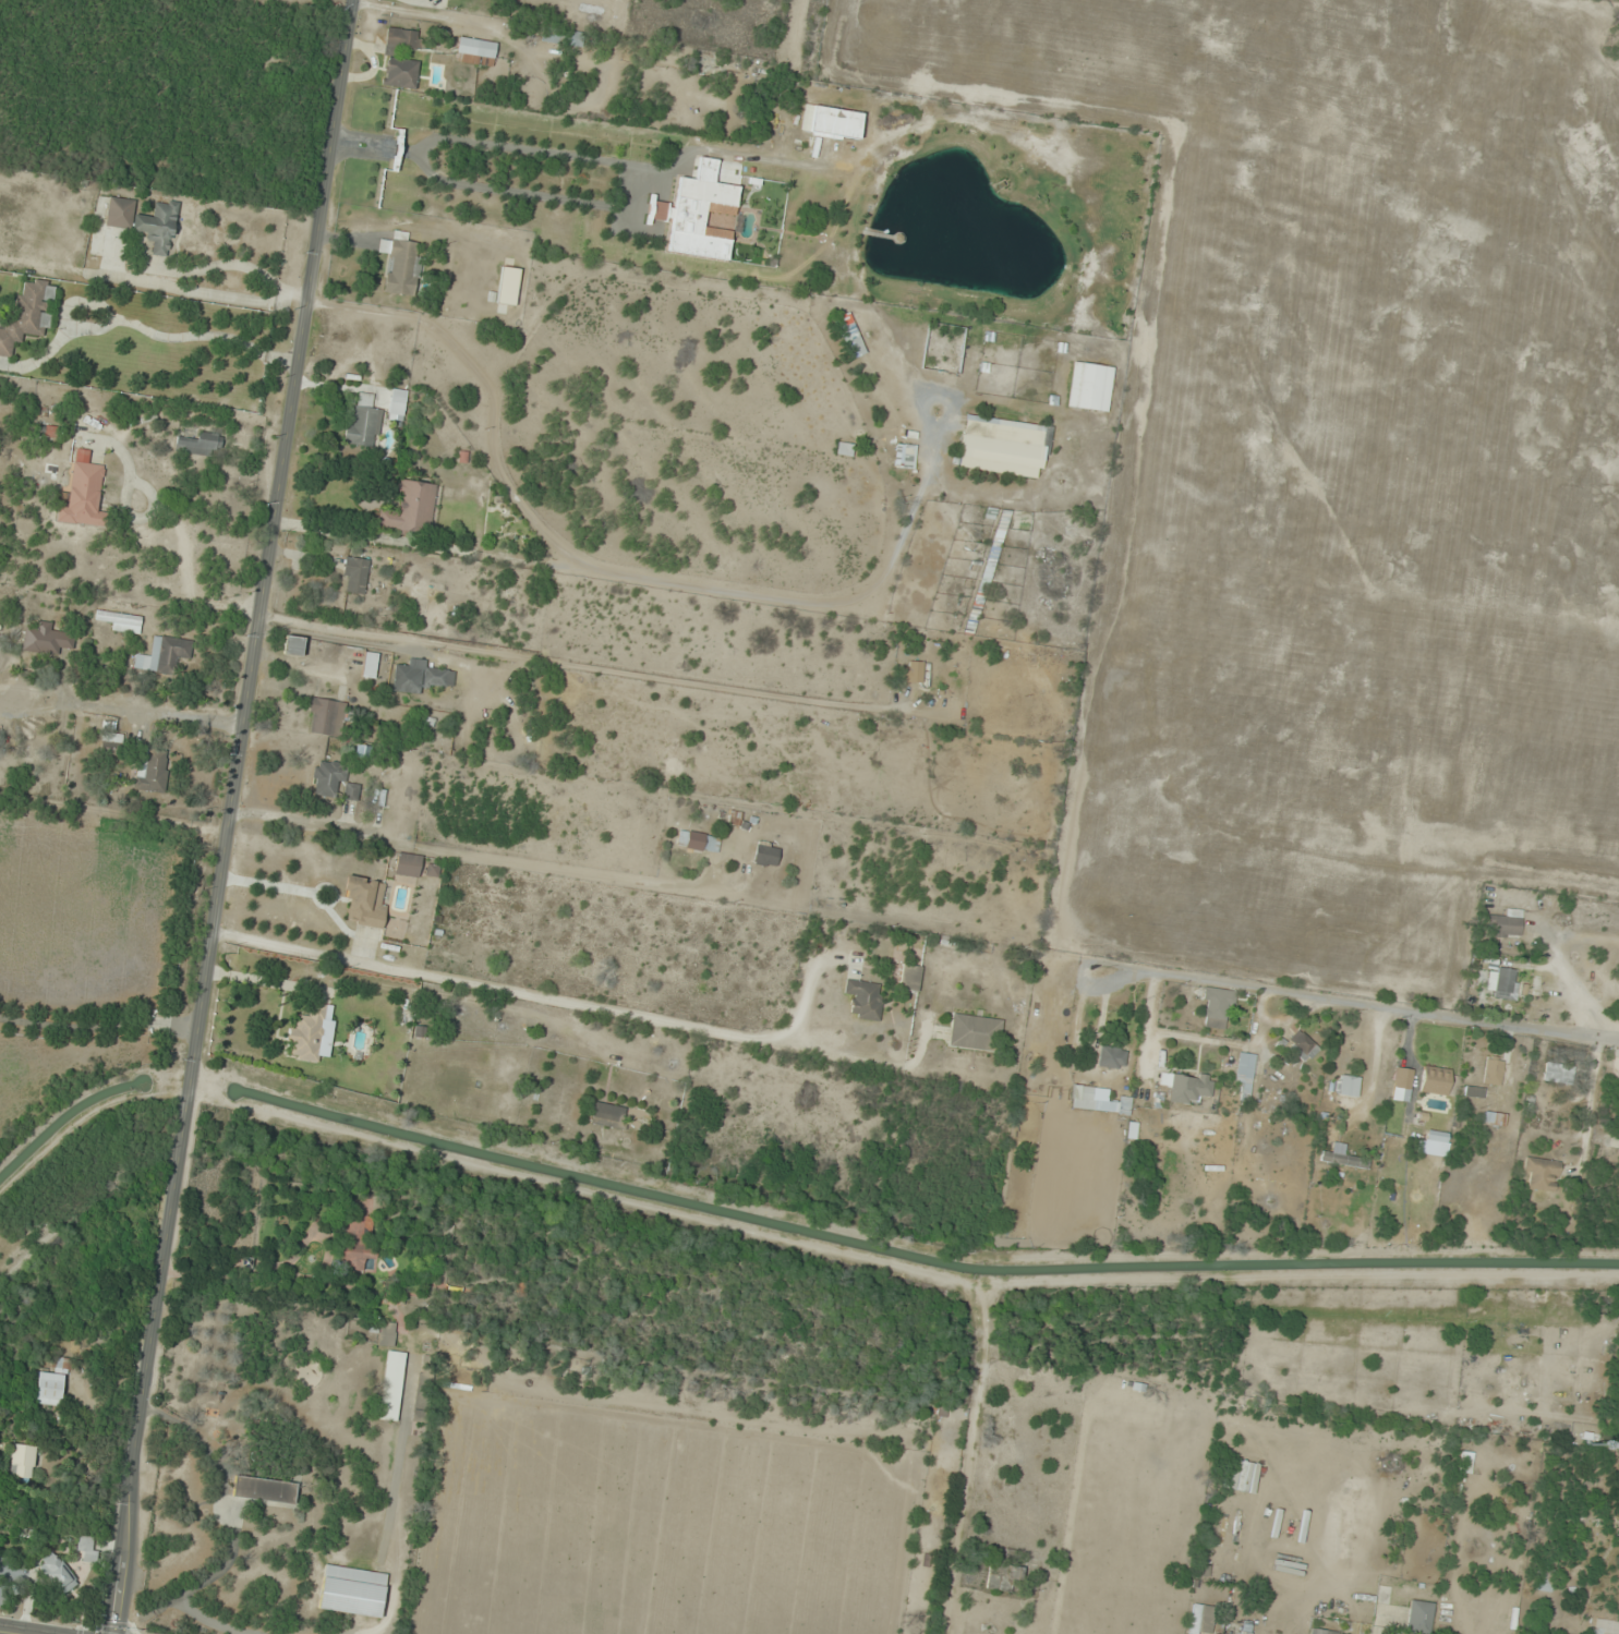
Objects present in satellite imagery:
building: (561, 36)
building: (403, 39)
building: (474, 50)
building: (400, 72)
building: (835, 123)
building: (700, 214)
building: (144, 221)
building: (401, 264)
road: (213, 267)
building: (507, 286)
building: (27, 314)
road: (63, 326)
building: (850, 335)
road: (181, 336)
building: (1090, 386)
building: (364, 421)
building: (201, 444)
building: (1004, 446)
building: (84, 496)
building: (411, 508)
road: (180, 532)
building: (987, 570)
building: (354, 573)
road: (605, 585)
building: (120, 620)
building: (46, 639)
building: (293, 644)
building: (164, 655)
building: (1023, 657)
building: (368, 664)
building: (911, 670)
building: (419, 676)
building: (326, 716)
building: (152, 772)
building: (331, 779)
road: (229, 816)
building: (696, 839)
building: (765, 852)
building: (407, 863)
building: (365, 900)
building: (1506, 923)
building: (909, 977)
building: (1501, 982)
building: (865, 998)
road: (556, 1000)
road: (1410, 1003)
building: (1217, 1007)
building: (311, 1032)
building: (975, 1032)
building: (1303, 1045)
building: (1112, 1057)
building: (1491, 1070)
building: (1244, 1073)
building: (1558, 1073)
building: (1434, 1079)
building: (1401, 1084)
building: (1348, 1085)
building: (1185, 1086)
building: (1473, 1091)
building: (1097, 1100)
building: (606, 1114)
building: (1493, 1118)
building: (1435, 1135)
building: (1431, 1147)
building: (1342, 1157)
building: (1542, 1173)
building: (358, 1242)
building: (387, 1333)
building: (391, 1385)
building: (48, 1388)
building: (1614, 1440)
building: (21, 1461)
building: (1466, 1462)
building: (264, 1489)
building: (86, 1548)
building: (57, 1572)
building: (1003, 1577)
building: (1544, 1579)
building: (1418, 1617)
building: (1200, 1619)
building: (1320, 1631)
road: (12, 1632)

